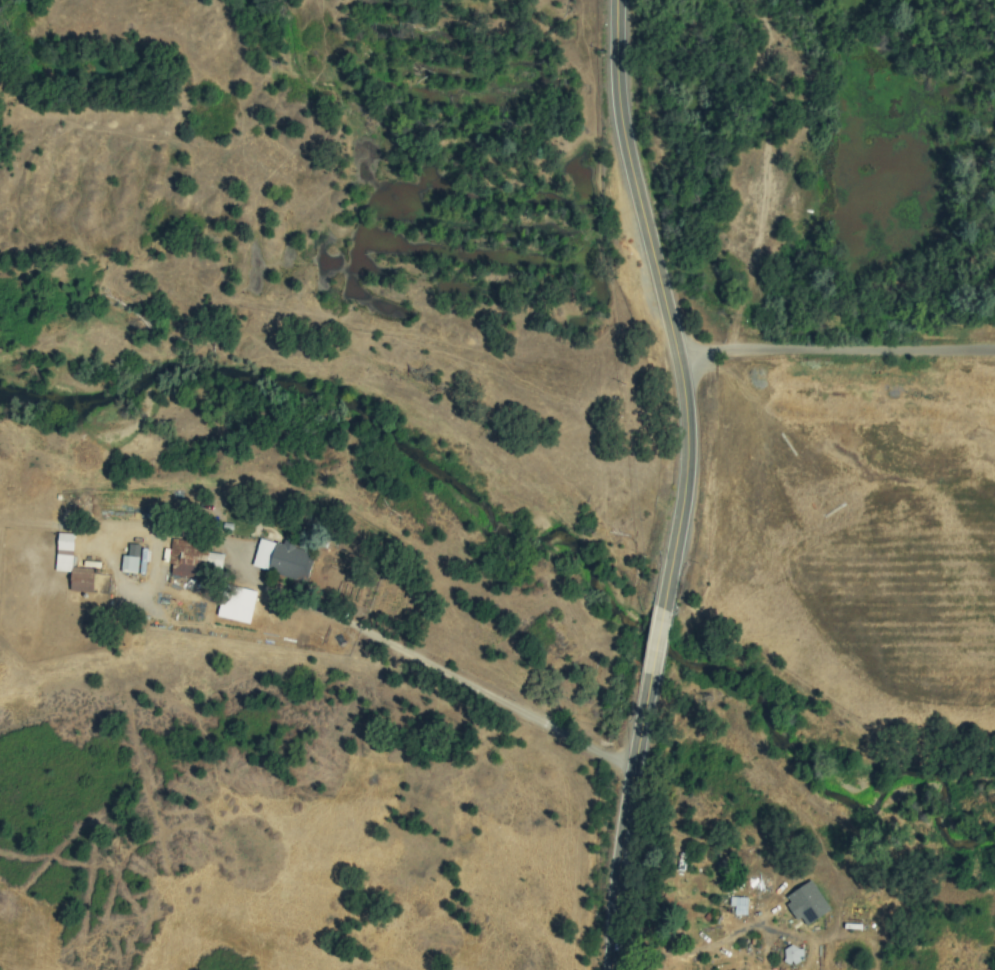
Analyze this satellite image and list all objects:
road: (667, 302)
road: (836, 349)
building: (63, 552)
building: (191, 558)
building: (130, 559)
building: (281, 559)
building: (81, 579)
building: (242, 596)
road: (660, 644)
road: (470, 685)
road: (627, 824)
building: (806, 903)
building: (740, 906)
building: (793, 955)

